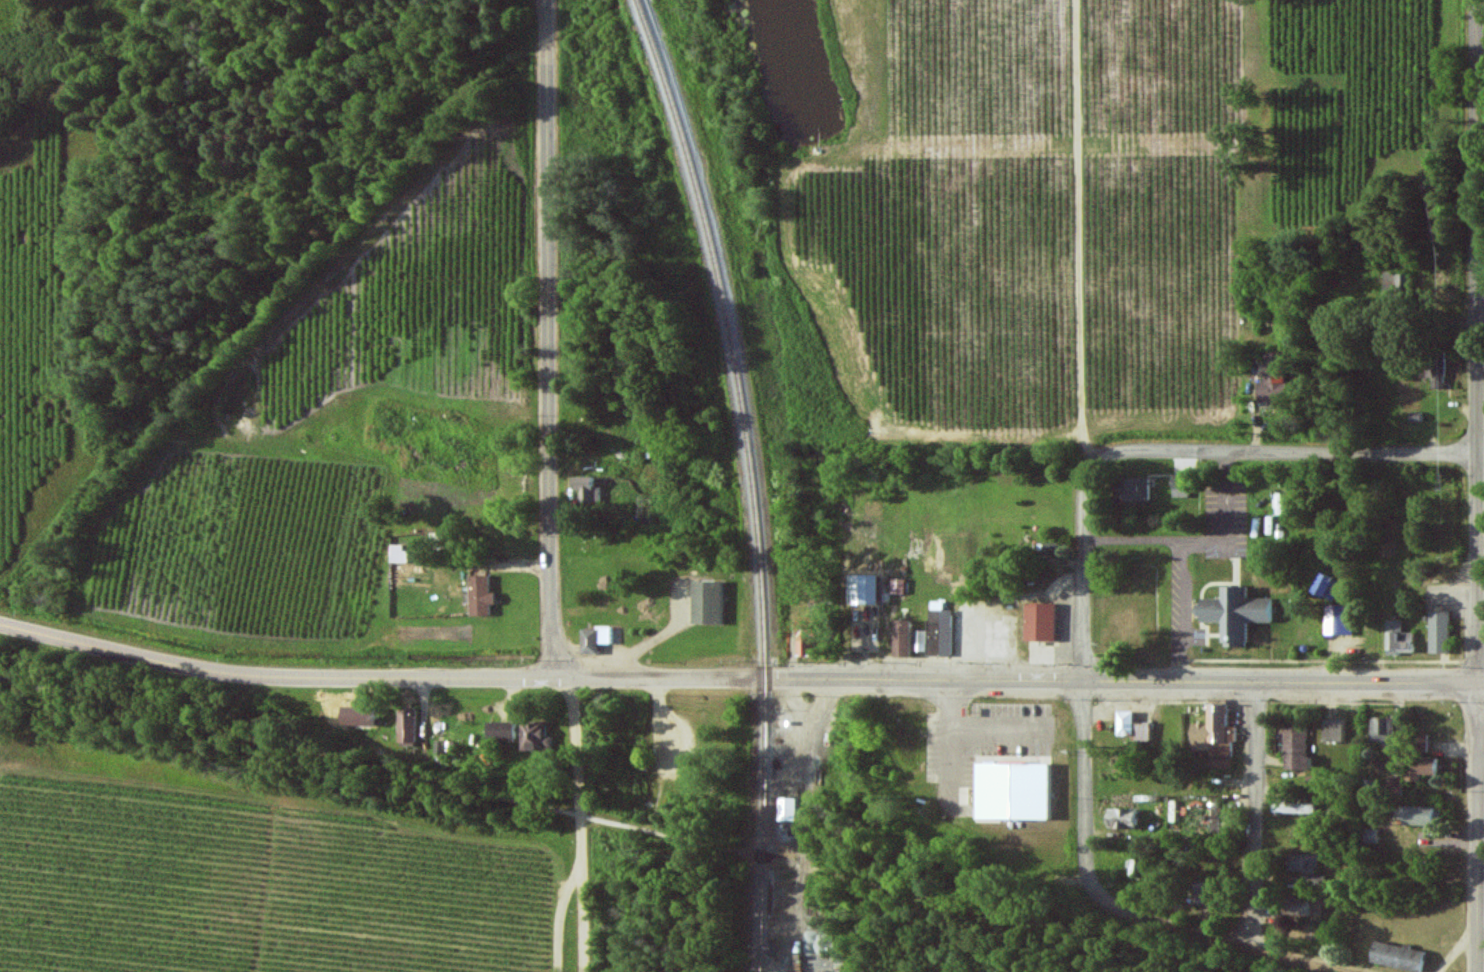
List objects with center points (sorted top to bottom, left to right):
building: (1396, 280)
road: (553, 339)
road: (1478, 340)
building: (1270, 377)
road: (1291, 450)
railway: (754, 478)
building: (1178, 486)
building: (586, 488)
building: (1130, 488)
building: (1277, 504)
building: (1269, 524)
building: (896, 585)
building: (1325, 586)
building: (861, 588)
building: (479, 595)
building: (705, 601)
building: (1233, 612)
building: (1337, 619)
building: (1048, 631)
building: (1438, 631)
building: (934, 632)
building: (900, 637)
building: (594, 638)
building: (1397, 638)
building: (804, 641)
road: (739, 679)
road: (1085, 682)
building: (354, 715)
building: (404, 725)
building: (1132, 726)
building: (498, 729)
building: (1381, 729)
building: (1332, 730)
building: (534, 736)
building: (1213, 736)
building: (1419, 742)
building: (1294, 748)
building: (1420, 767)
building: (1394, 785)
building: (1010, 790)
building: (1294, 807)
building: (786, 808)
building: (1215, 814)
road: (1255, 814)
building: (1421, 815)
building: (1120, 817)
road: (580, 823)
road: (621, 825)
road: (1478, 826)
road: (923, 829)
building: (1371, 835)
building: (1303, 863)
building: (1201, 893)
road: (1481, 915)
road: (1225, 939)
building: (1396, 956)

